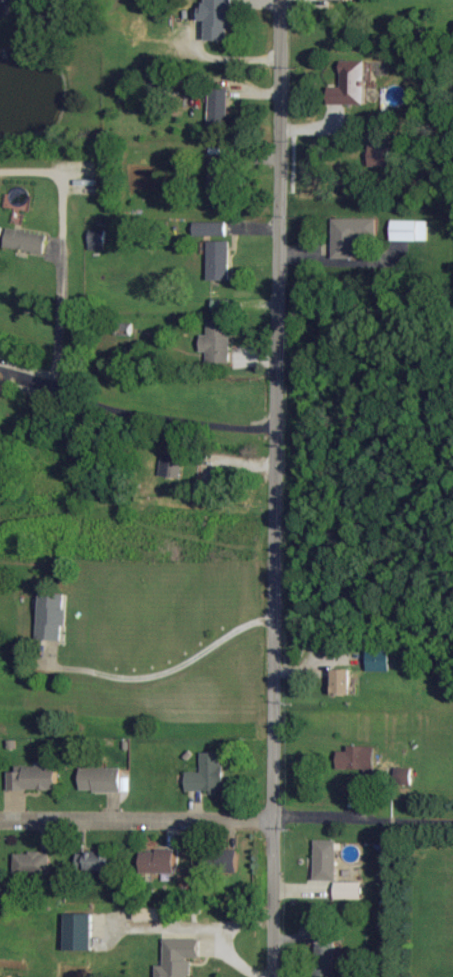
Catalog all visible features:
building: (351, 0)
building: (217, 18)
building: (157, 83)
building: (350, 84)
building: (219, 105)
building: (380, 155)
building: (220, 176)
building: (211, 228)
building: (411, 230)
building: (352, 235)
building: (98, 239)
building: (26, 240)
building: (220, 260)
building: (228, 305)
building: (120, 339)
building: (218, 341)
road: (63, 394)
building: (172, 464)
road: (287, 488)
building: (52, 616)
building: (379, 660)
road: (172, 669)
building: (342, 682)
building: (358, 758)
building: (208, 774)
building: (404, 776)
building: (34, 779)
building: (101, 779)
road: (334, 817)
road: (138, 819)
road: (422, 821)
building: (228, 860)
building: (326, 860)
building: (94, 861)
building: (158, 861)
building: (32, 864)
building: (349, 890)
building: (79, 932)
building: (179, 957)

